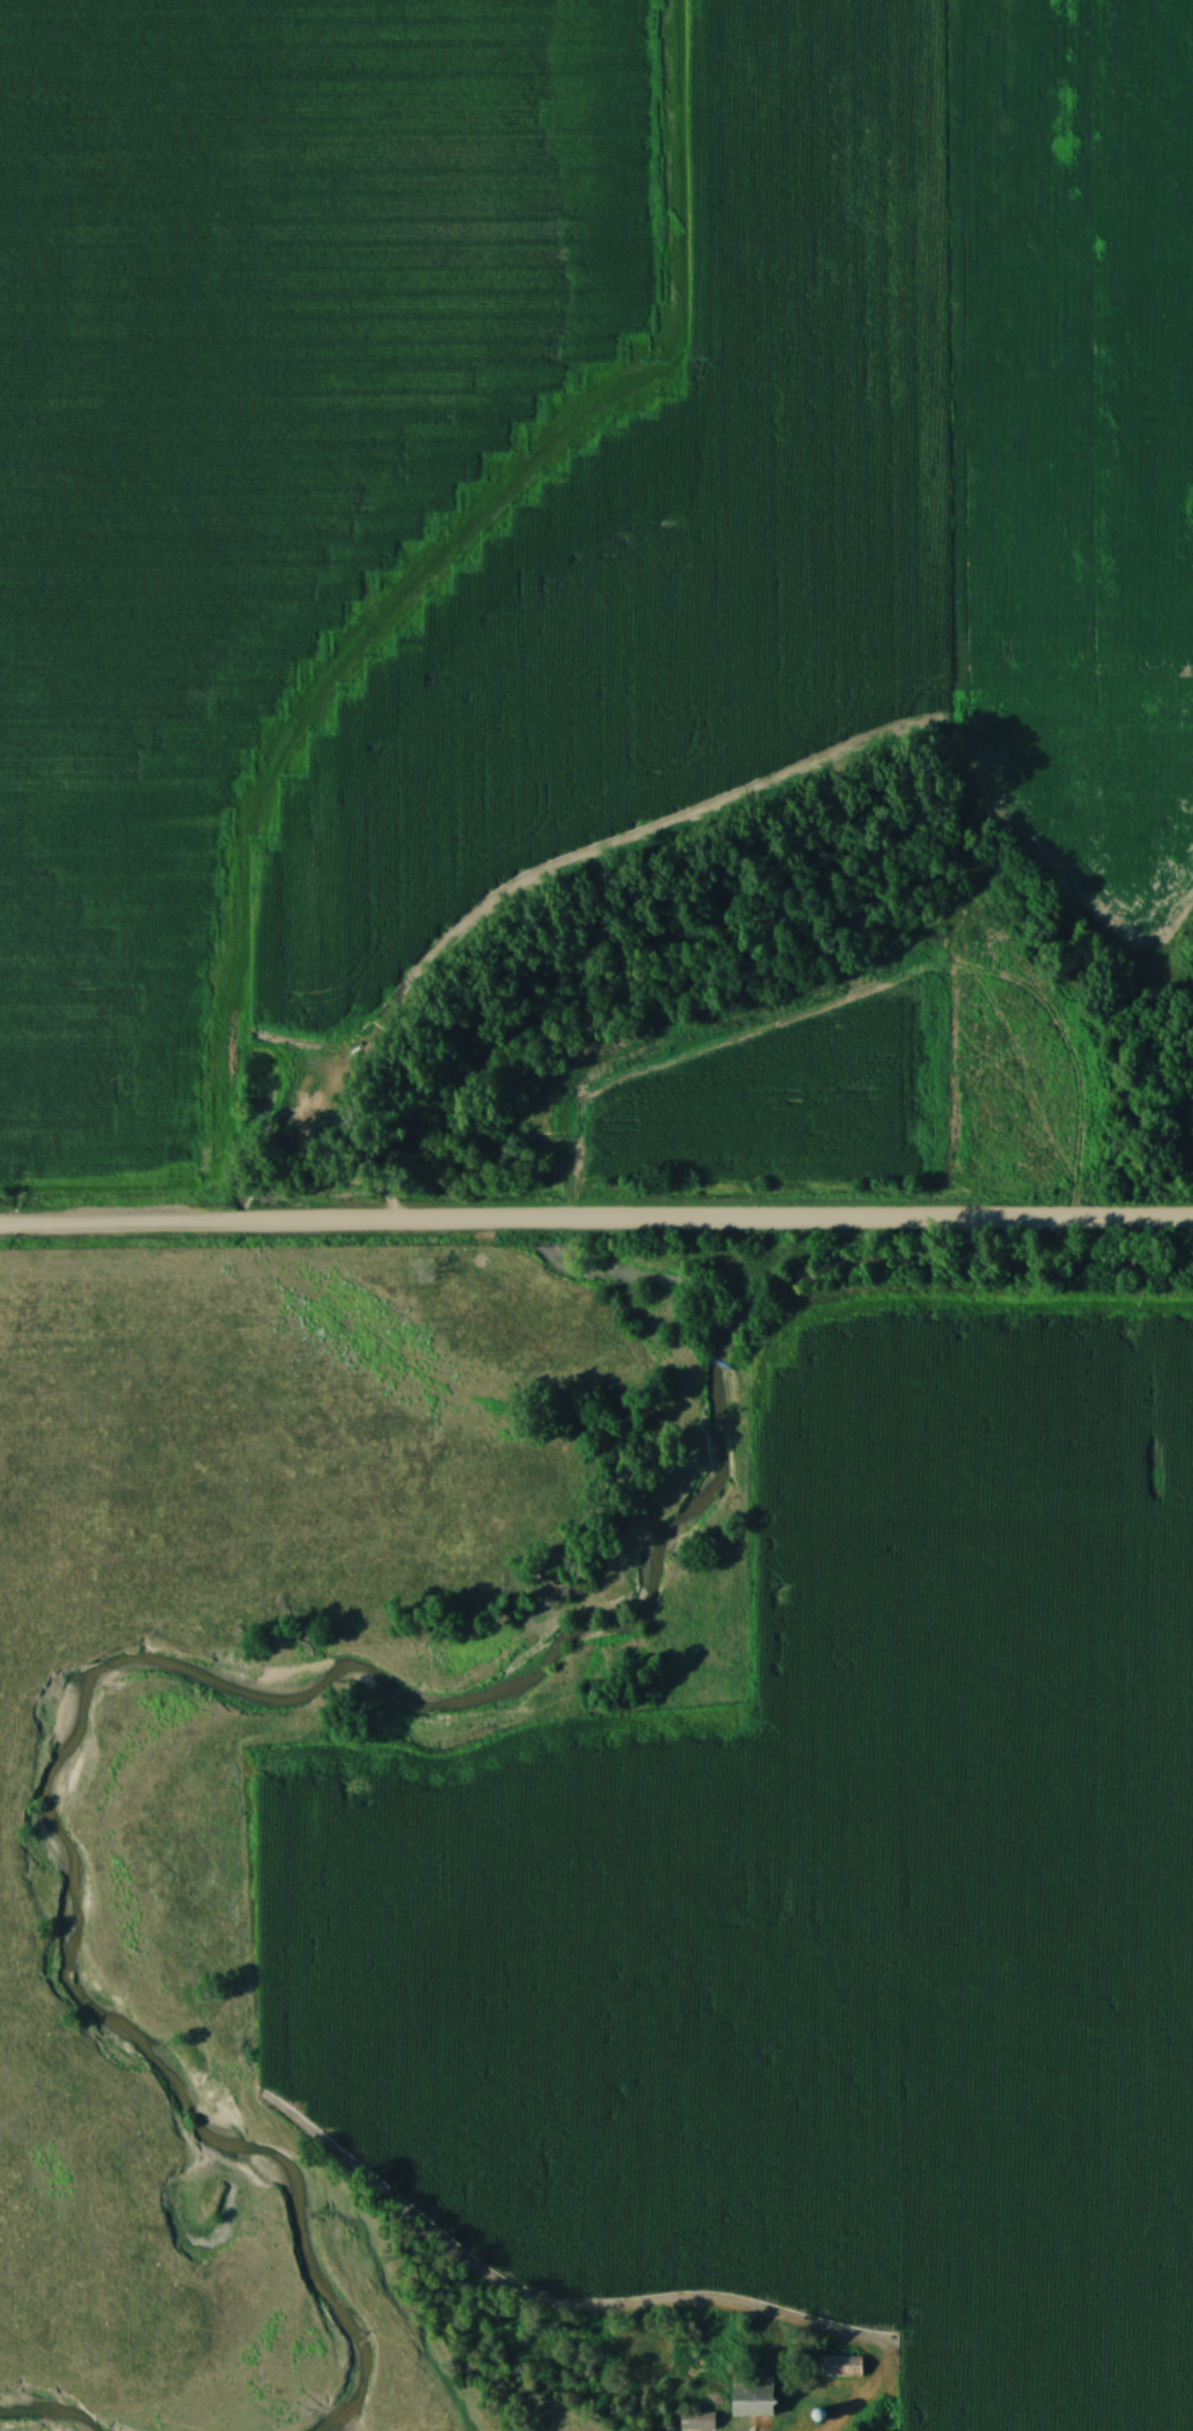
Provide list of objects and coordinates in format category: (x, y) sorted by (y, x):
road: (596, 1222)
river: (320, 1679)
building: (841, 2367)
building: (752, 2396)
river: (48, 2407)
building: (697, 2423)

